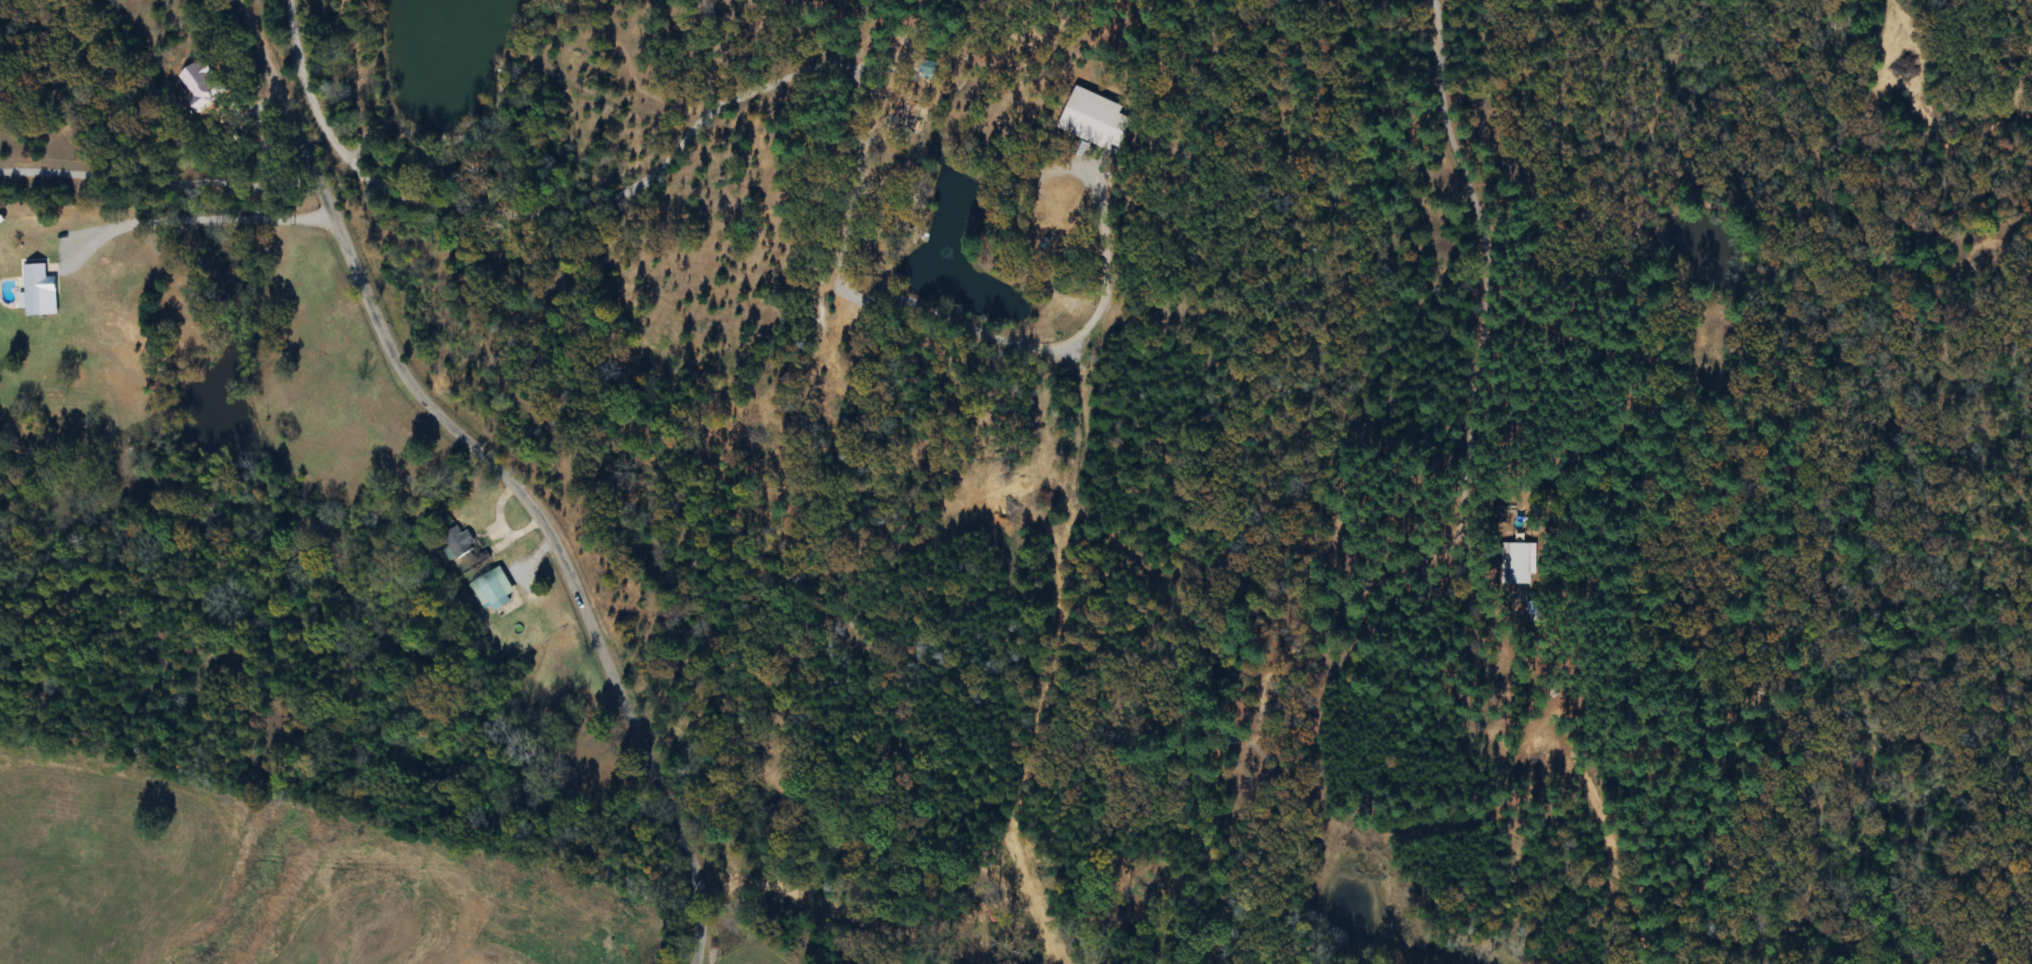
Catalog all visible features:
road: (114, 15)
building: (927, 70)
road: (156, 177)
road: (533, 215)
road: (194, 216)
building: (39, 293)
building: (332, 331)
road: (497, 469)
building: (458, 541)
building: (1519, 564)
building: (492, 590)

